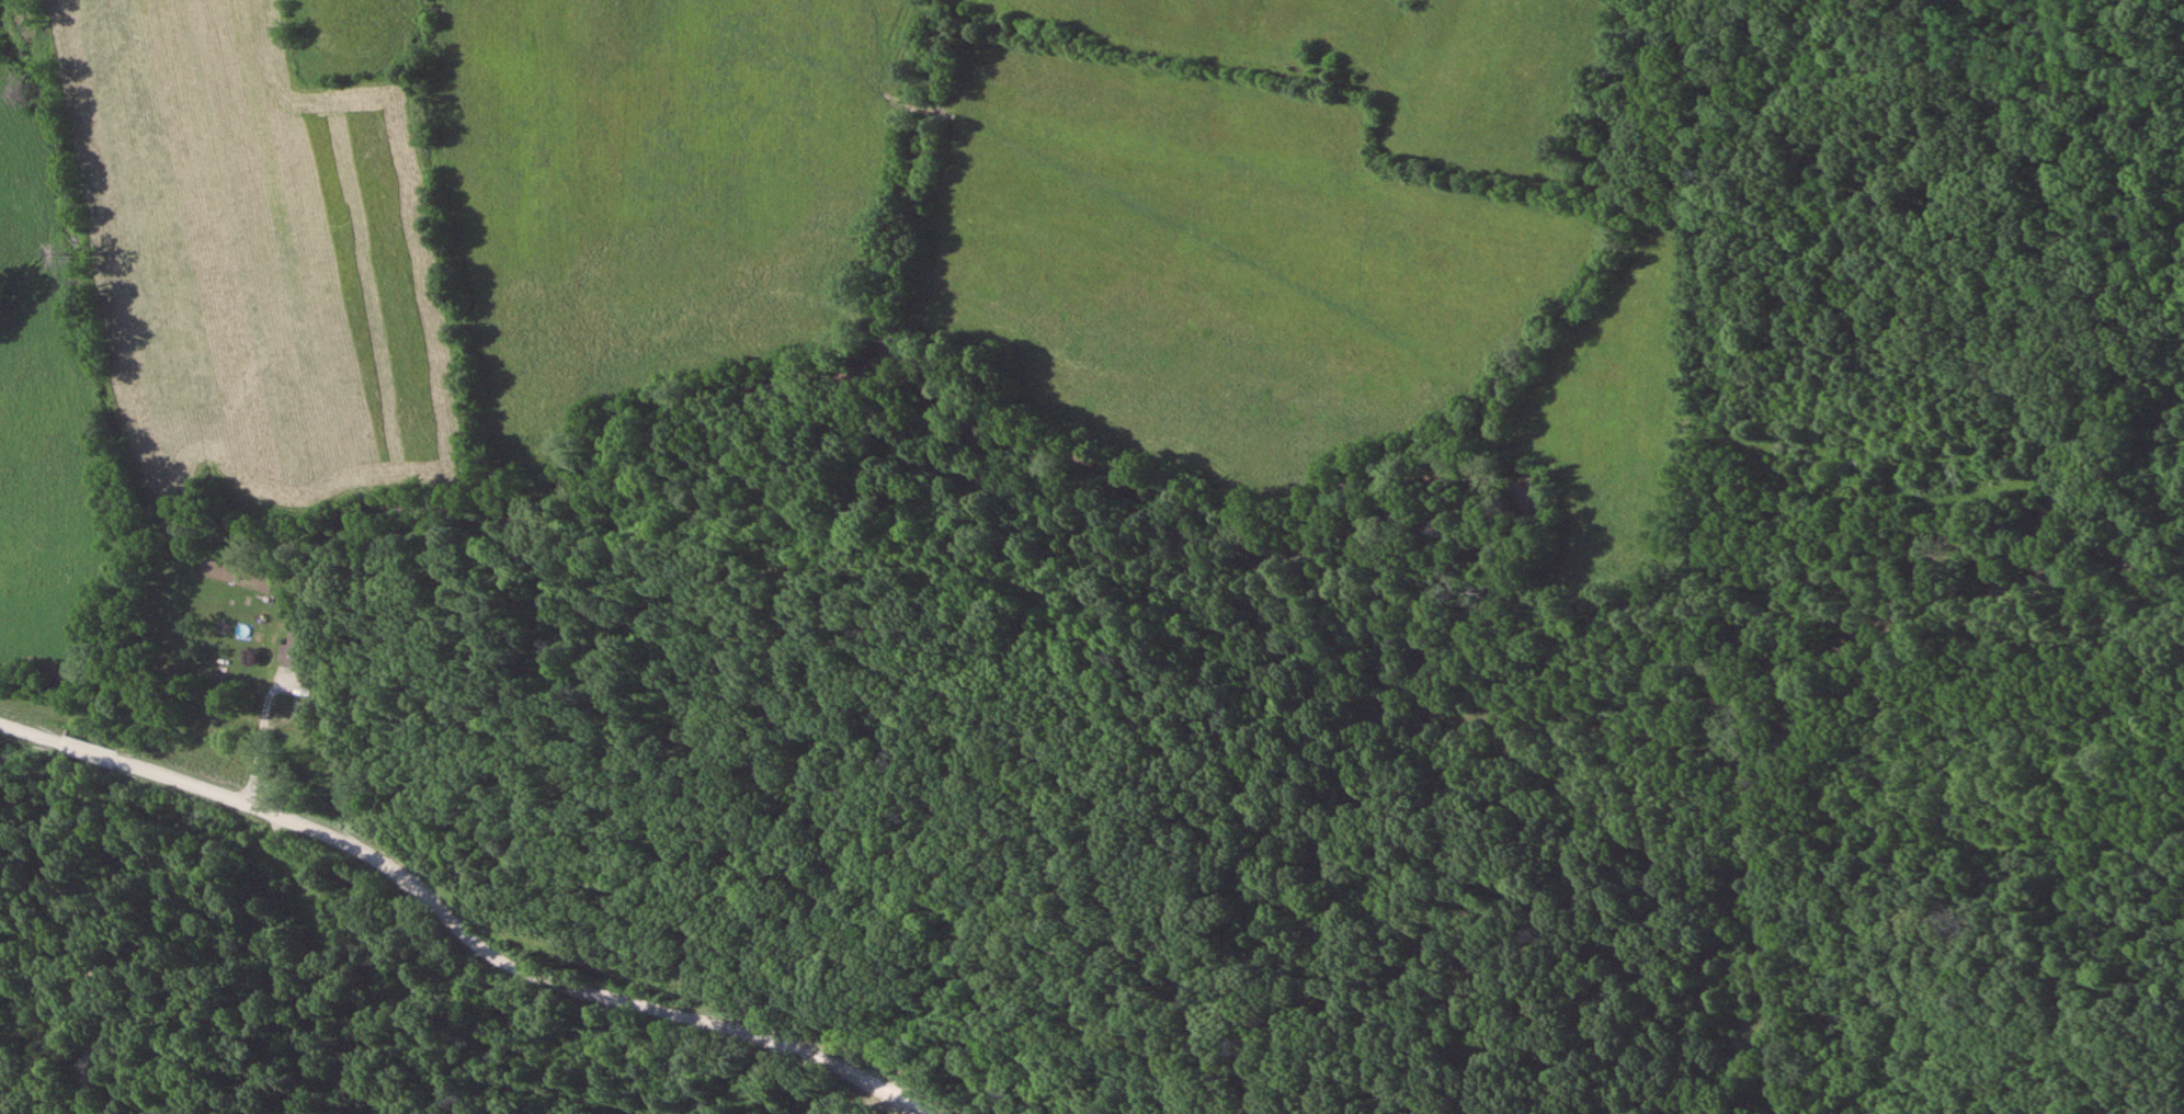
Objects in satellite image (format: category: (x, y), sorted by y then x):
road: (272, 686)
road: (478, 940)

